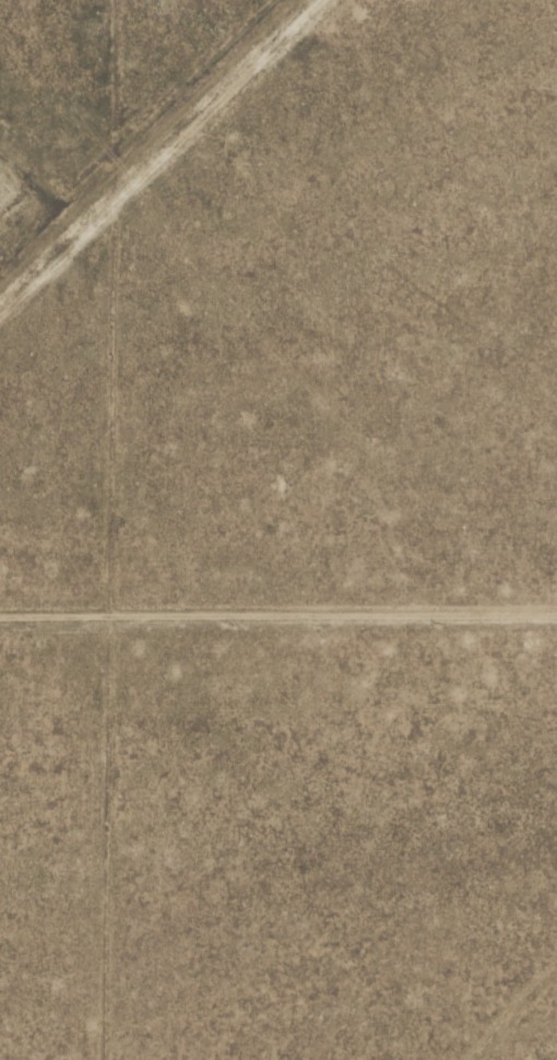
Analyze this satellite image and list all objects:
airport: (529, 1029)

